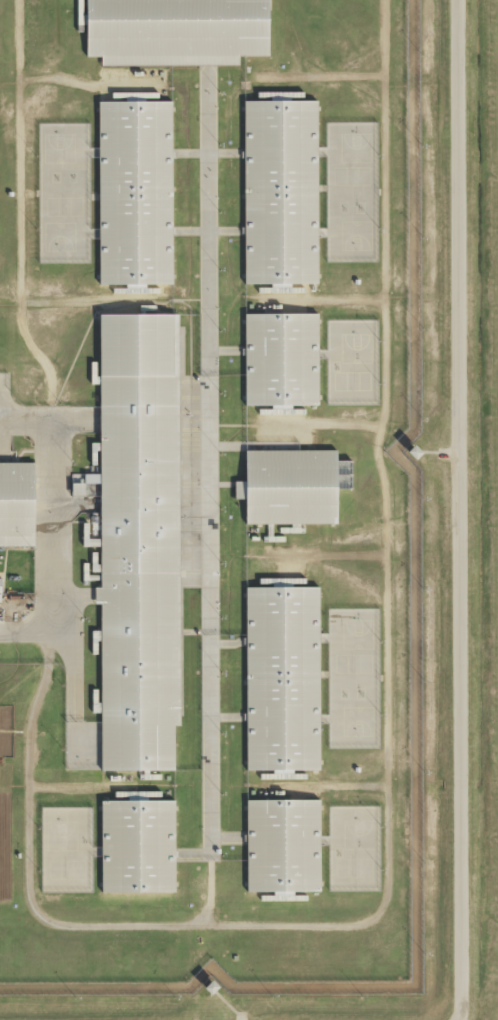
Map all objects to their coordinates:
building: (180, 30)
building: (284, 190)
building: (138, 191)
building: (284, 358)
building: (296, 485)
building: (74, 498)
building: (18, 503)
road: (465, 513)
building: (142, 539)
road: (47, 555)
building: (285, 677)
building: (286, 844)
building: (140, 845)
building: (203, 994)

